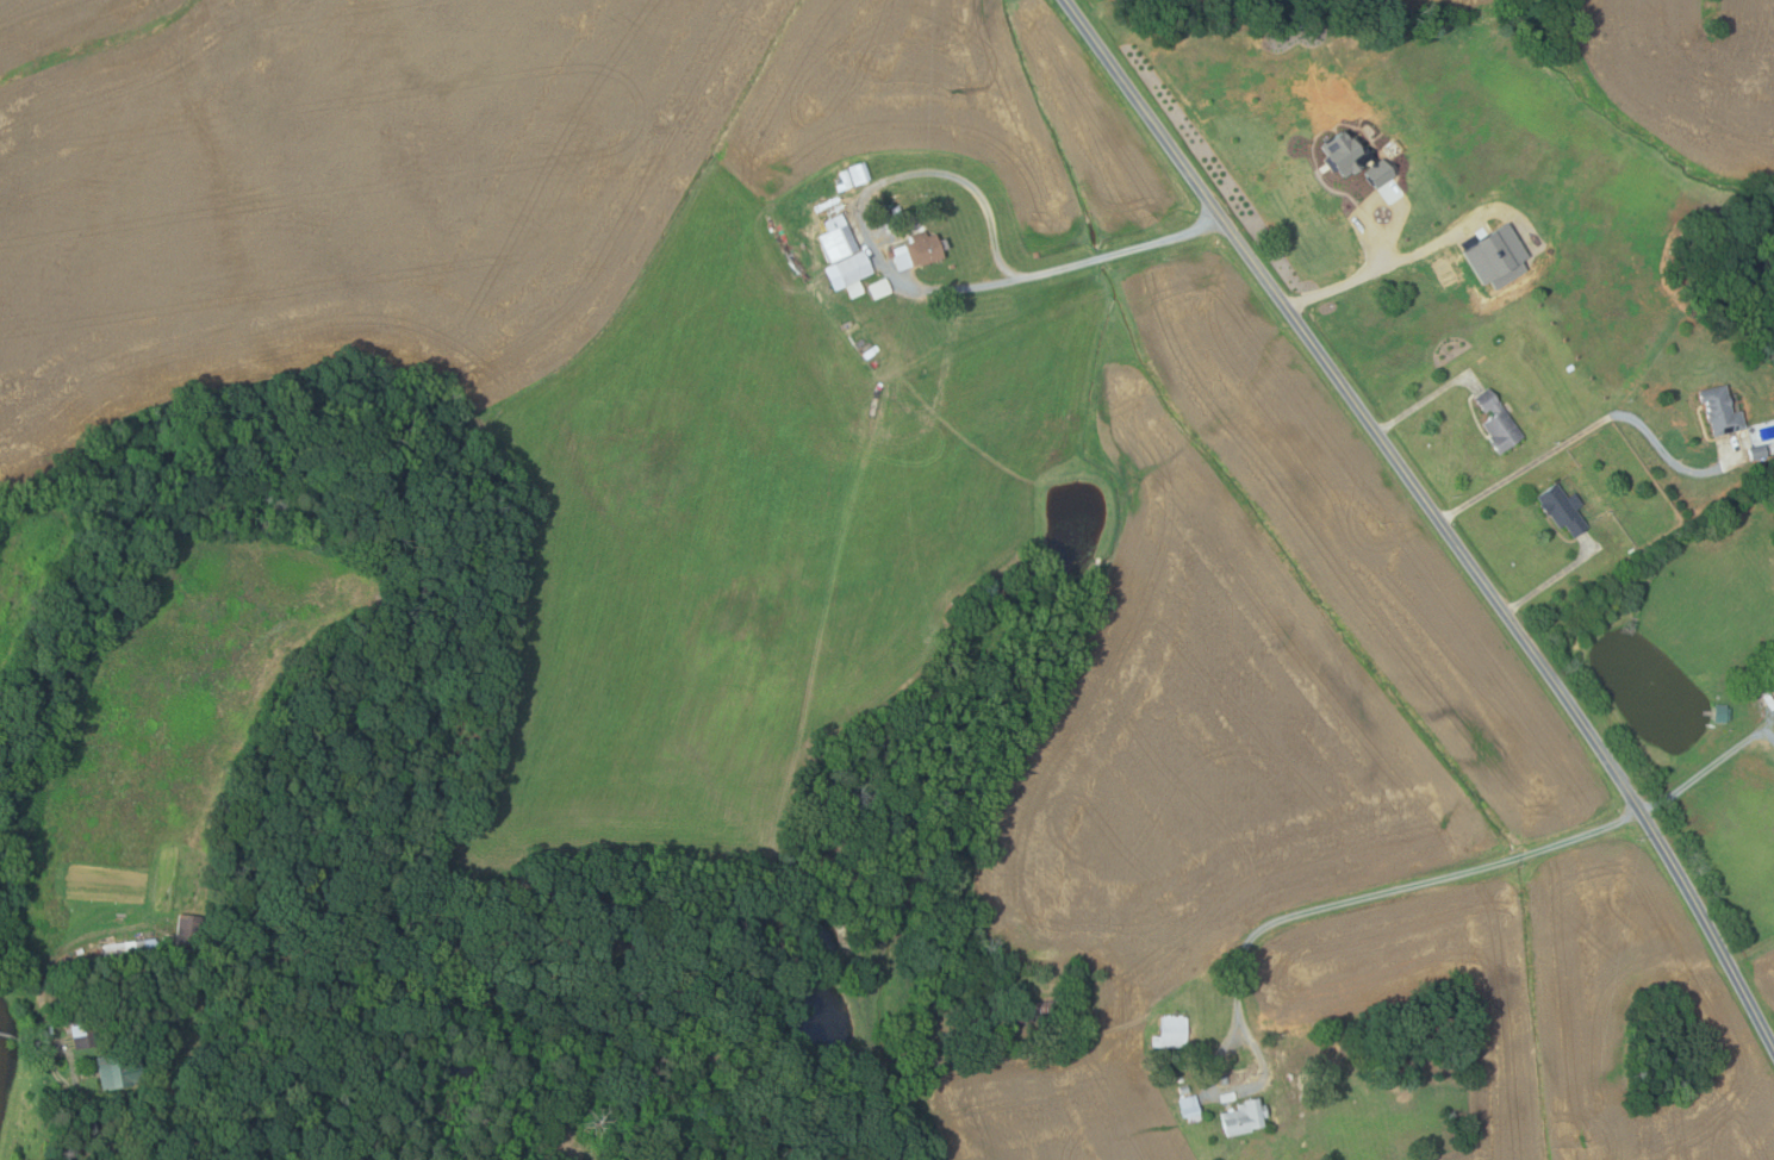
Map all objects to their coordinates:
crop: (1097, 4)
crop: (1469, 10)
crop: (1681, 80)
building: (1347, 152)
building: (1381, 173)
building: (859, 174)
road: (960, 179)
building: (844, 181)
building: (897, 213)
building: (838, 238)
building: (919, 250)
building: (1443, 266)
building: (853, 268)
road: (1369, 273)
building: (855, 288)
building: (879, 288)
road: (1423, 403)
building: (1723, 410)
building: (1499, 422)
road: (1589, 429)
building: (1759, 454)
building: (1563, 509)
road: (1436, 512)
road: (1549, 581)
building: (954, 604)
building: (1759, 681)
crop: (1239, 710)
crop: (1239, 710)
building: (1723, 713)
road: (1711, 766)
road: (1311, 910)
building: (187, 936)
building: (130, 948)
building: (80, 952)
crop: (1763, 978)
crop: (1546, 1003)
crop: (1556, 1006)
building: (1035, 1010)
building: (1176, 1031)
building: (86, 1036)
building: (1156, 1041)
building: (122, 1071)
building: (1182, 1080)
building: (1225, 1080)
building: (1184, 1089)
road: (150, 1090)
building: (1228, 1097)
building: (1191, 1109)
building: (1245, 1118)

